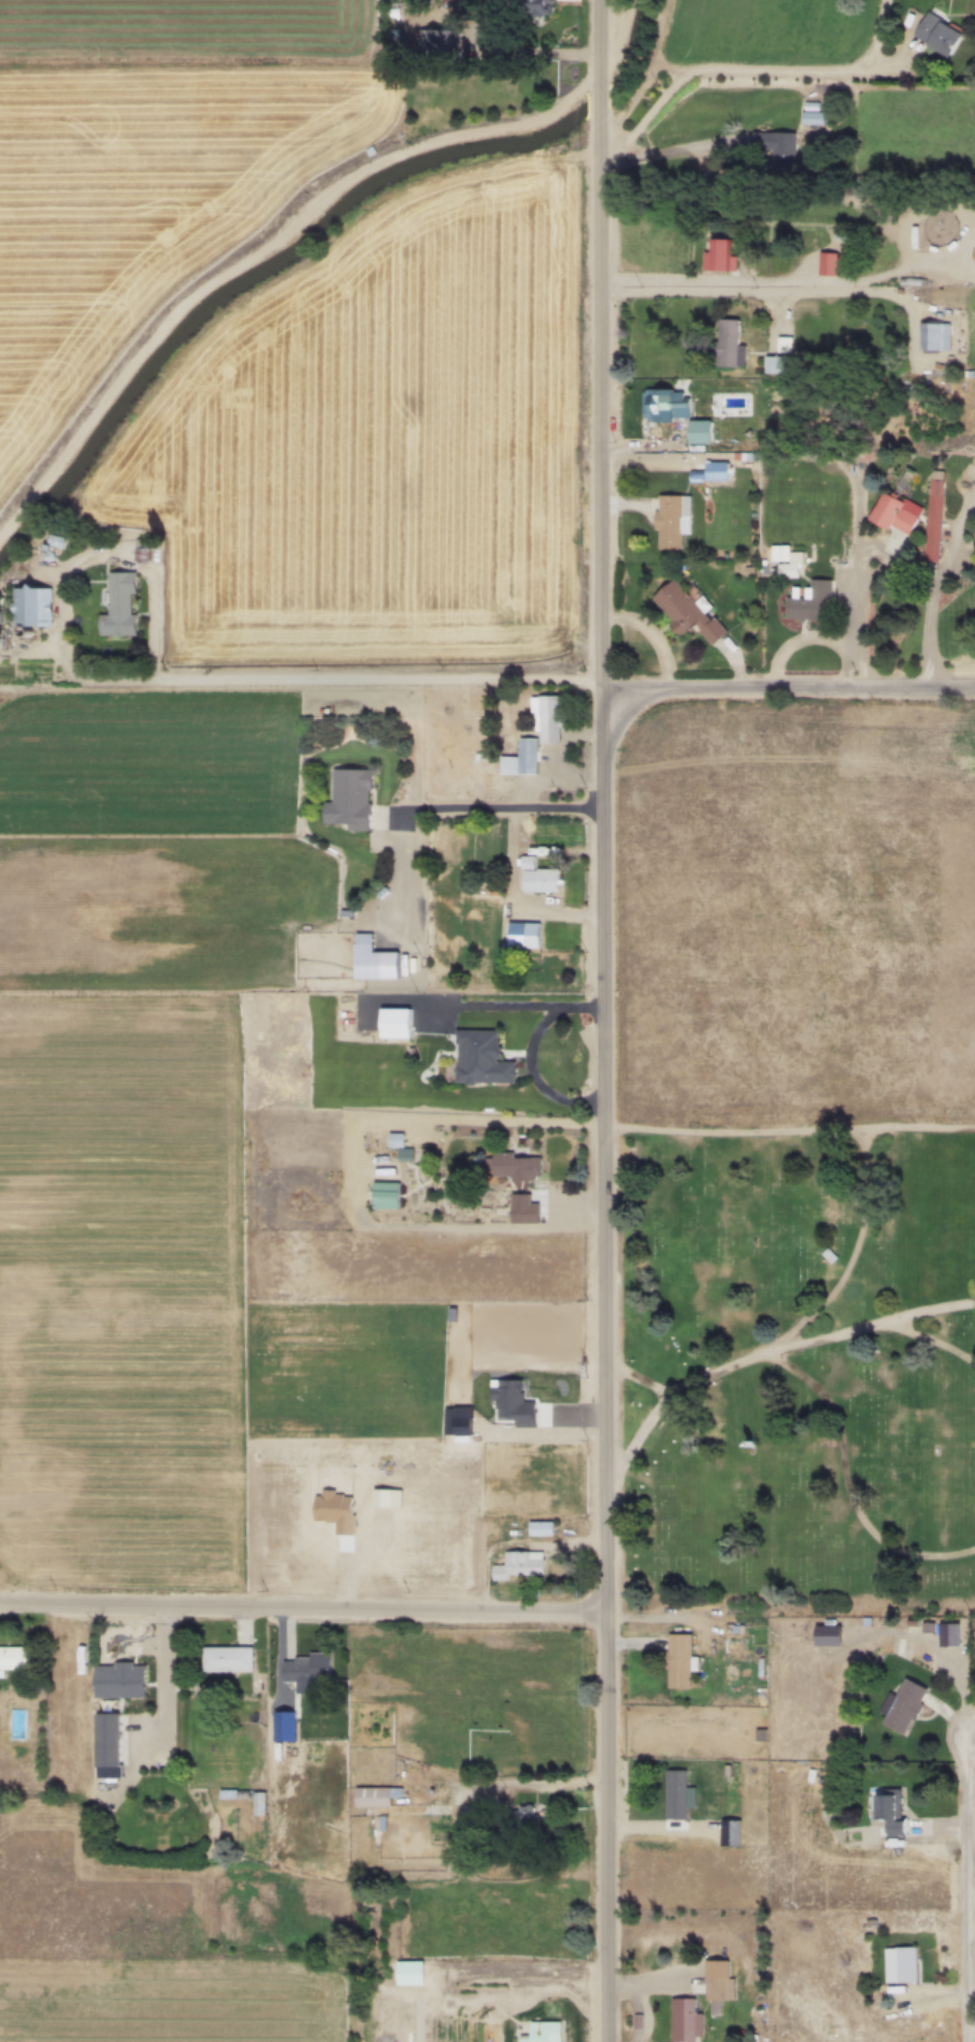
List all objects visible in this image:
building: (536, 6)
building: (937, 34)
building: (435, 42)
road: (745, 71)
building: (811, 117)
road: (724, 143)
building: (775, 148)
road: (643, 156)
road: (296, 232)
building: (718, 254)
building: (826, 263)
road: (888, 273)
road: (756, 286)
building: (933, 335)
building: (726, 343)
road: (953, 343)
building: (664, 404)
building: (697, 431)
road: (641, 458)
building: (715, 470)
building: (893, 513)
building: (670, 519)
building: (932, 519)
building: (55, 540)
building: (140, 550)
road: (859, 562)
building: (787, 569)
road: (151, 577)
building: (809, 601)
building: (117, 605)
building: (30, 606)
road: (932, 609)
building: (685, 610)
road: (650, 634)
road: (861, 635)
road: (445, 682)
building: (533, 738)
building: (348, 797)
road: (506, 808)
building: (526, 861)
building: (539, 880)
building: (522, 934)
building: (372, 959)
road: (603, 1020)
building: (394, 1023)
building: (480, 1058)
road: (508, 1122)
road: (789, 1134)
building: (395, 1141)
building: (404, 1155)
building: (511, 1167)
building: (385, 1196)
building: (522, 1213)
road: (936, 1310)
road: (876, 1325)
road: (641, 1380)
road: (670, 1400)
road: (840, 1489)
building: (486, 1526)
building: (539, 1527)
building: (517, 1564)
road: (302, 1605)
building: (926, 1626)
building: (947, 1633)
building: (14, 1658)
building: (226, 1658)
building: (677, 1660)
building: (305, 1668)
road: (157, 1675)
building: (117, 1678)
building: (903, 1706)
building: (105, 1738)
road: (524, 1783)
building: (674, 1793)
building: (374, 1794)
building: (257, 1802)
building: (889, 1811)
building: (521, 1815)
road: (968, 1885)
building: (899, 1964)
building: (407, 1971)
building: (717, 1990)
building: (683, 2020)
building: (541, 2031)

